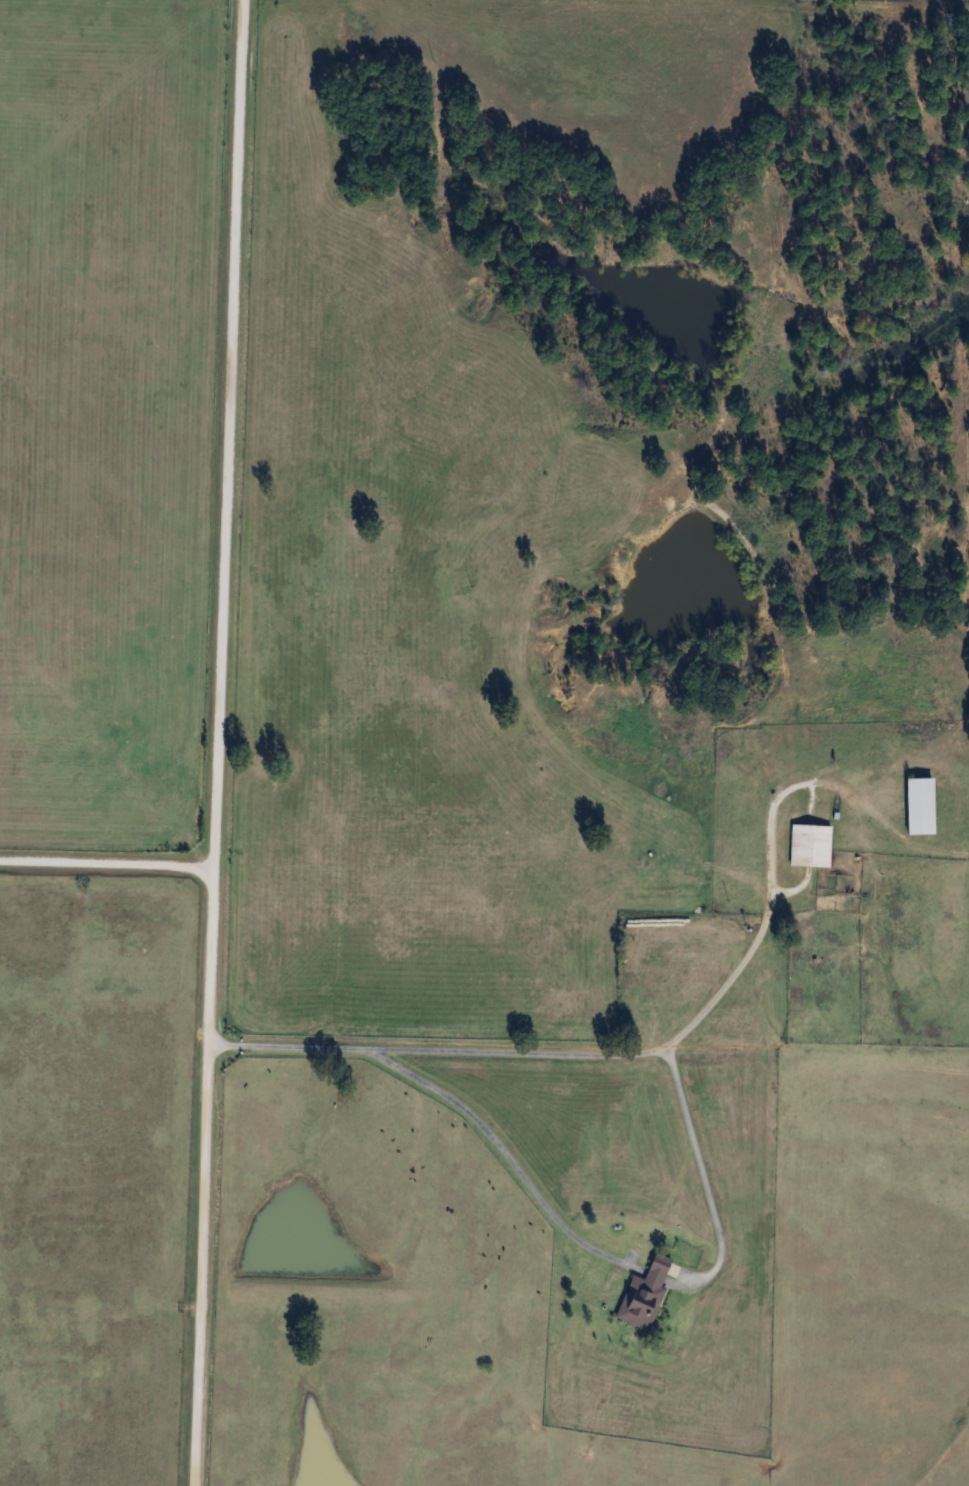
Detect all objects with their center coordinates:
road: (219, 743)
building: (918, 806)
building: (809, 845)
road: (108, 858)
road: (518, 1054)
road: (499, 1148)
road: (705, 1170)
building: (642, 1296)

